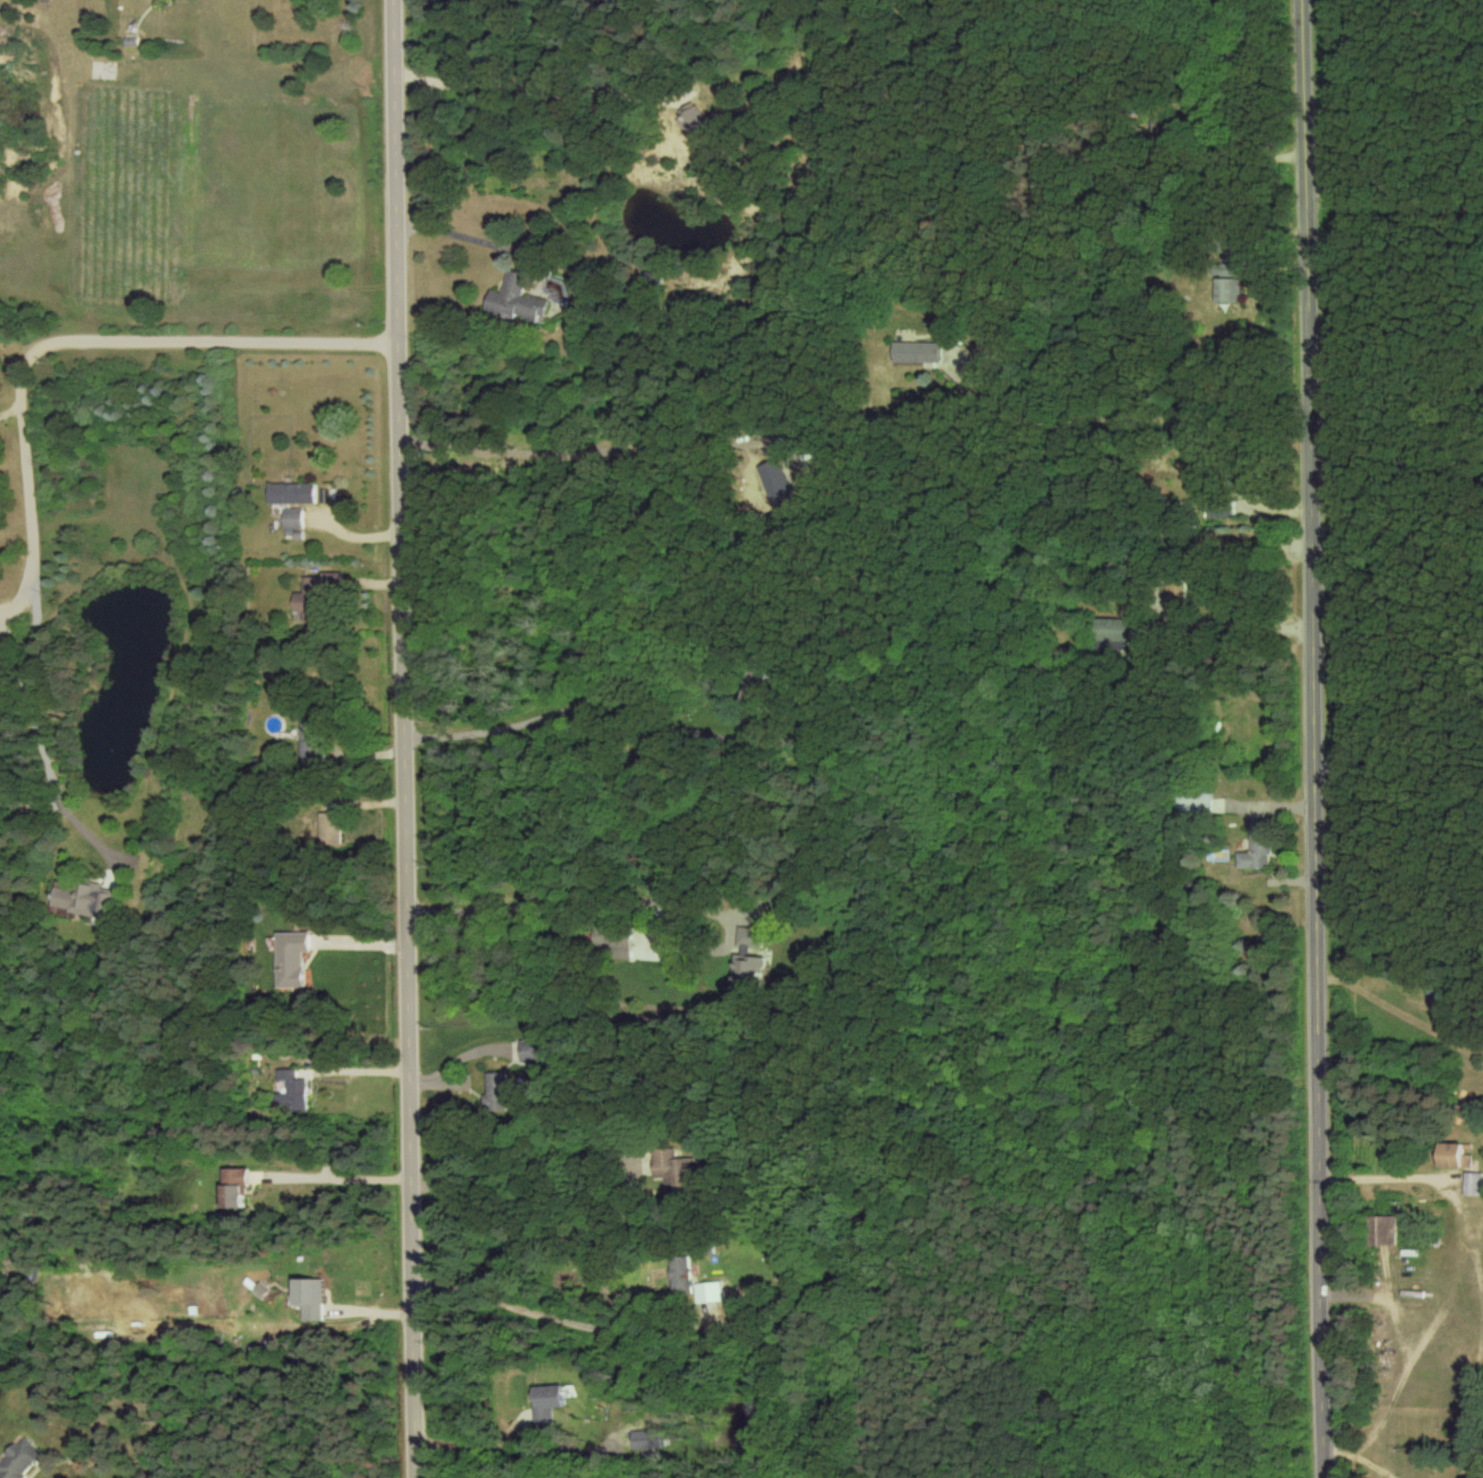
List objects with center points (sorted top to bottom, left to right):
road: (156, 63)
building: (690, 119)
road: (1396, 184)
road: (457, 234)
building: (1227, 285)
building: (515, 299)
road: (61, 341)
building: (917, 352)
road: (1397, 395)
road: (9, 399)
road: (1135, 417)
building: (776, 483)
building: (291, 492)
building: (1221, 509)
building: (292, 517)
road: (1398, 580)
building: (314, 594)
road: (6, 606)
road: (1258, 622)
building: (1112, 631)
road: (573, 707)
road: (1317, 738)
road: (403, 739)
road: (40, 740)
road: (1399, 794)
building: (1195, 798)
building: (329, 828)
building: (1255, 846)
building: (86, 899)
road: (570, 900)
building: (614, 941)
building: (748, 954)
building: (291, 958)
building: (533, 1051)
building: (495, 1092)
building: (290, 1093)
building: (1451, 1156)
road: (520, 1164)
building: (676, 1170)
road: (336, 1172)
road: (1381, 1178)
building: (1471, 1183)
building: (231, 1187)
building: (1381, 1230)
building: (681, 1274)
building: (710, 1292)
building: (308, 1298)
road: (544, 1313)
building: (546, 1402)
building: (646, 1439)
road: (470, 1446)
building: (19, 1459)

